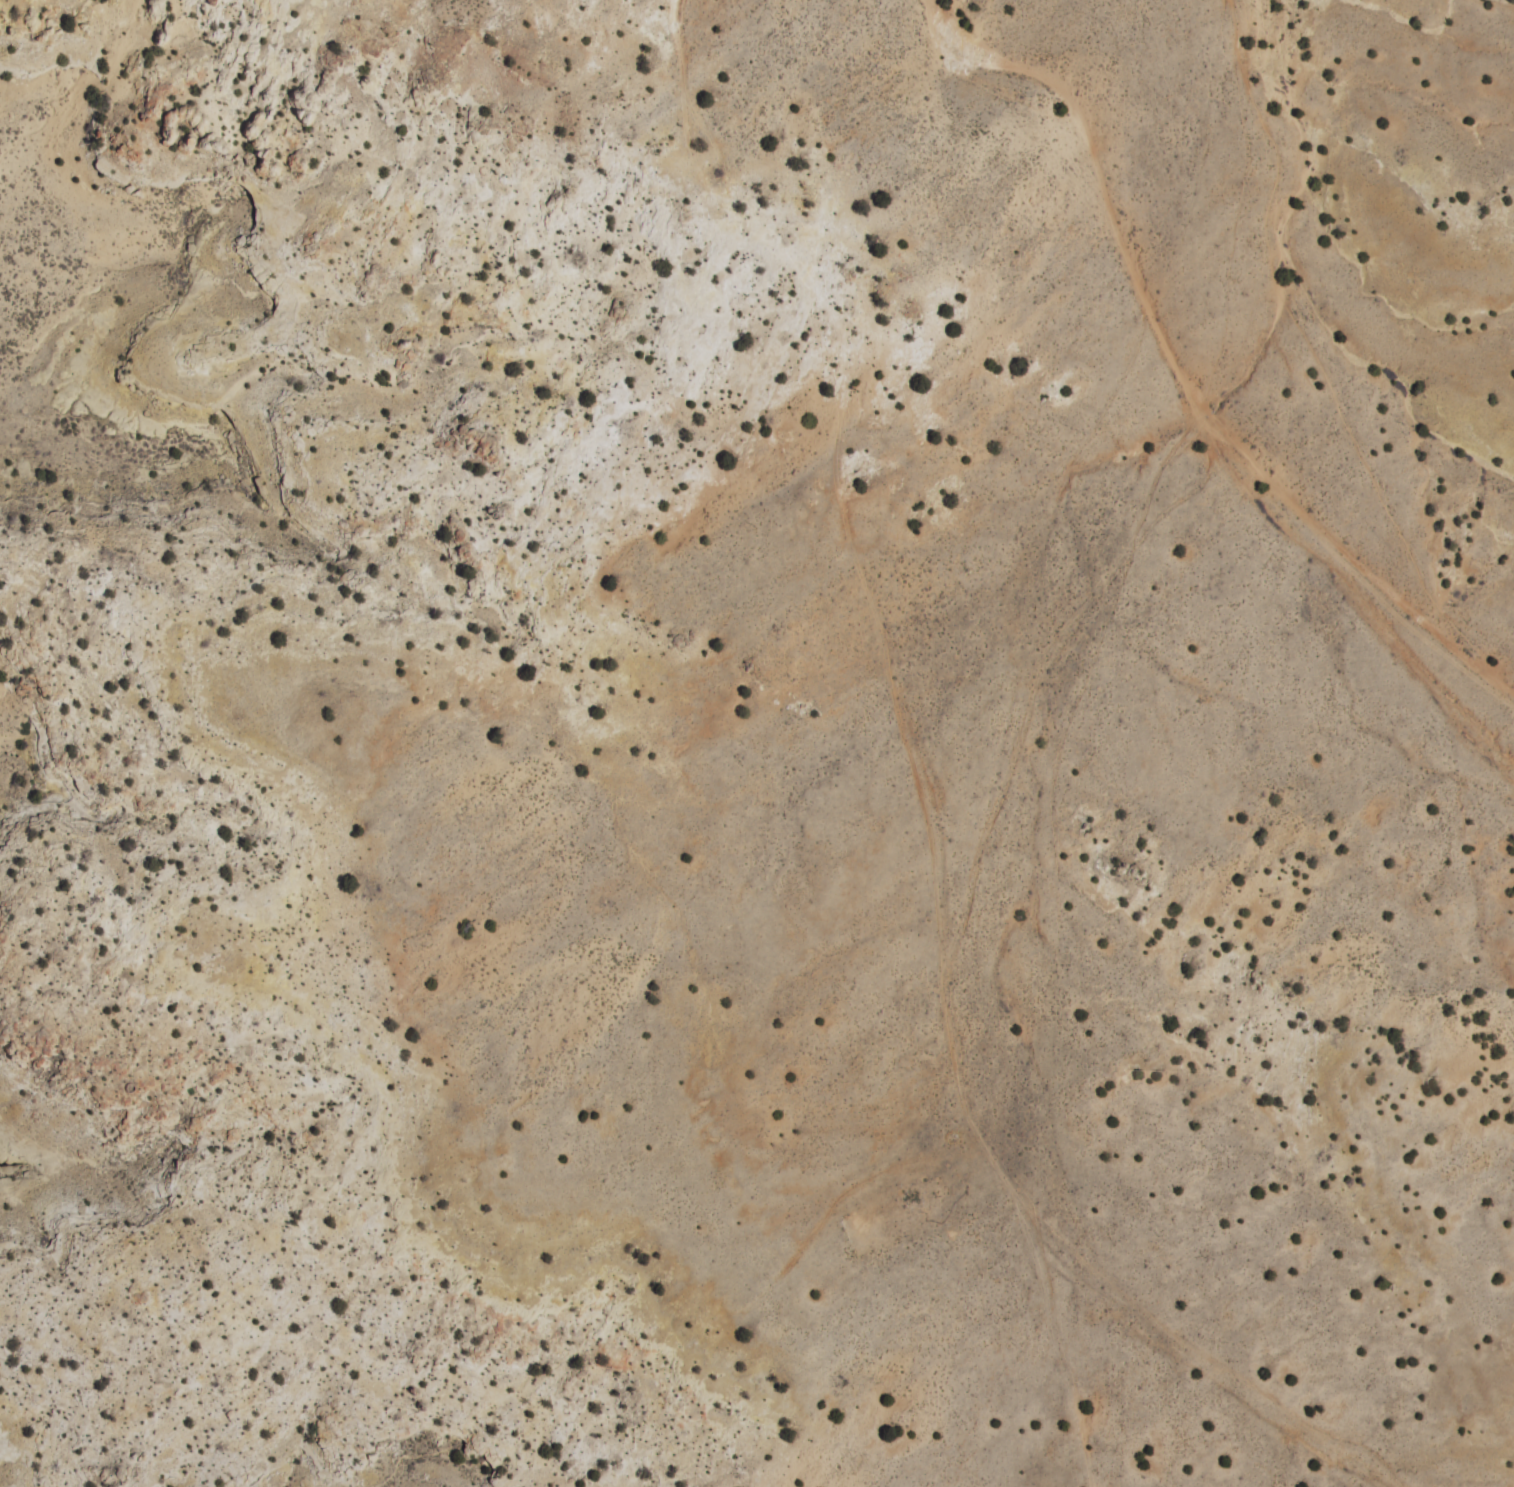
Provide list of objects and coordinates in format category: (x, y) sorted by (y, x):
road: (1068, 91)
road: (1211, 426)

